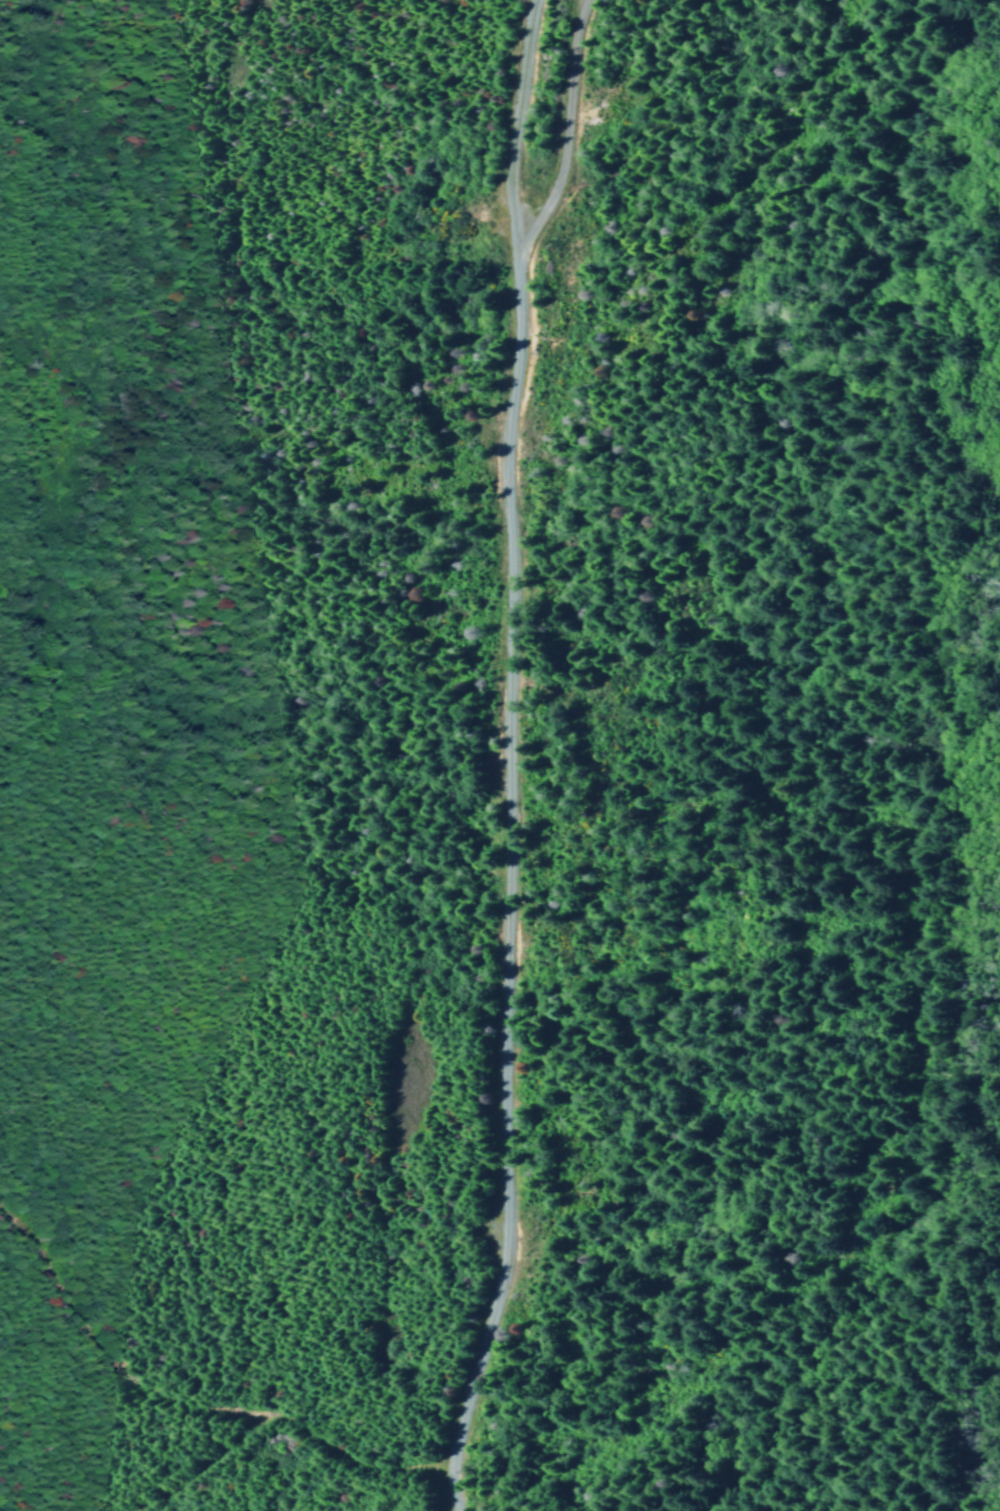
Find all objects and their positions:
road: (506, 758)
road: (185, 1407)
road: (219, 1473)

